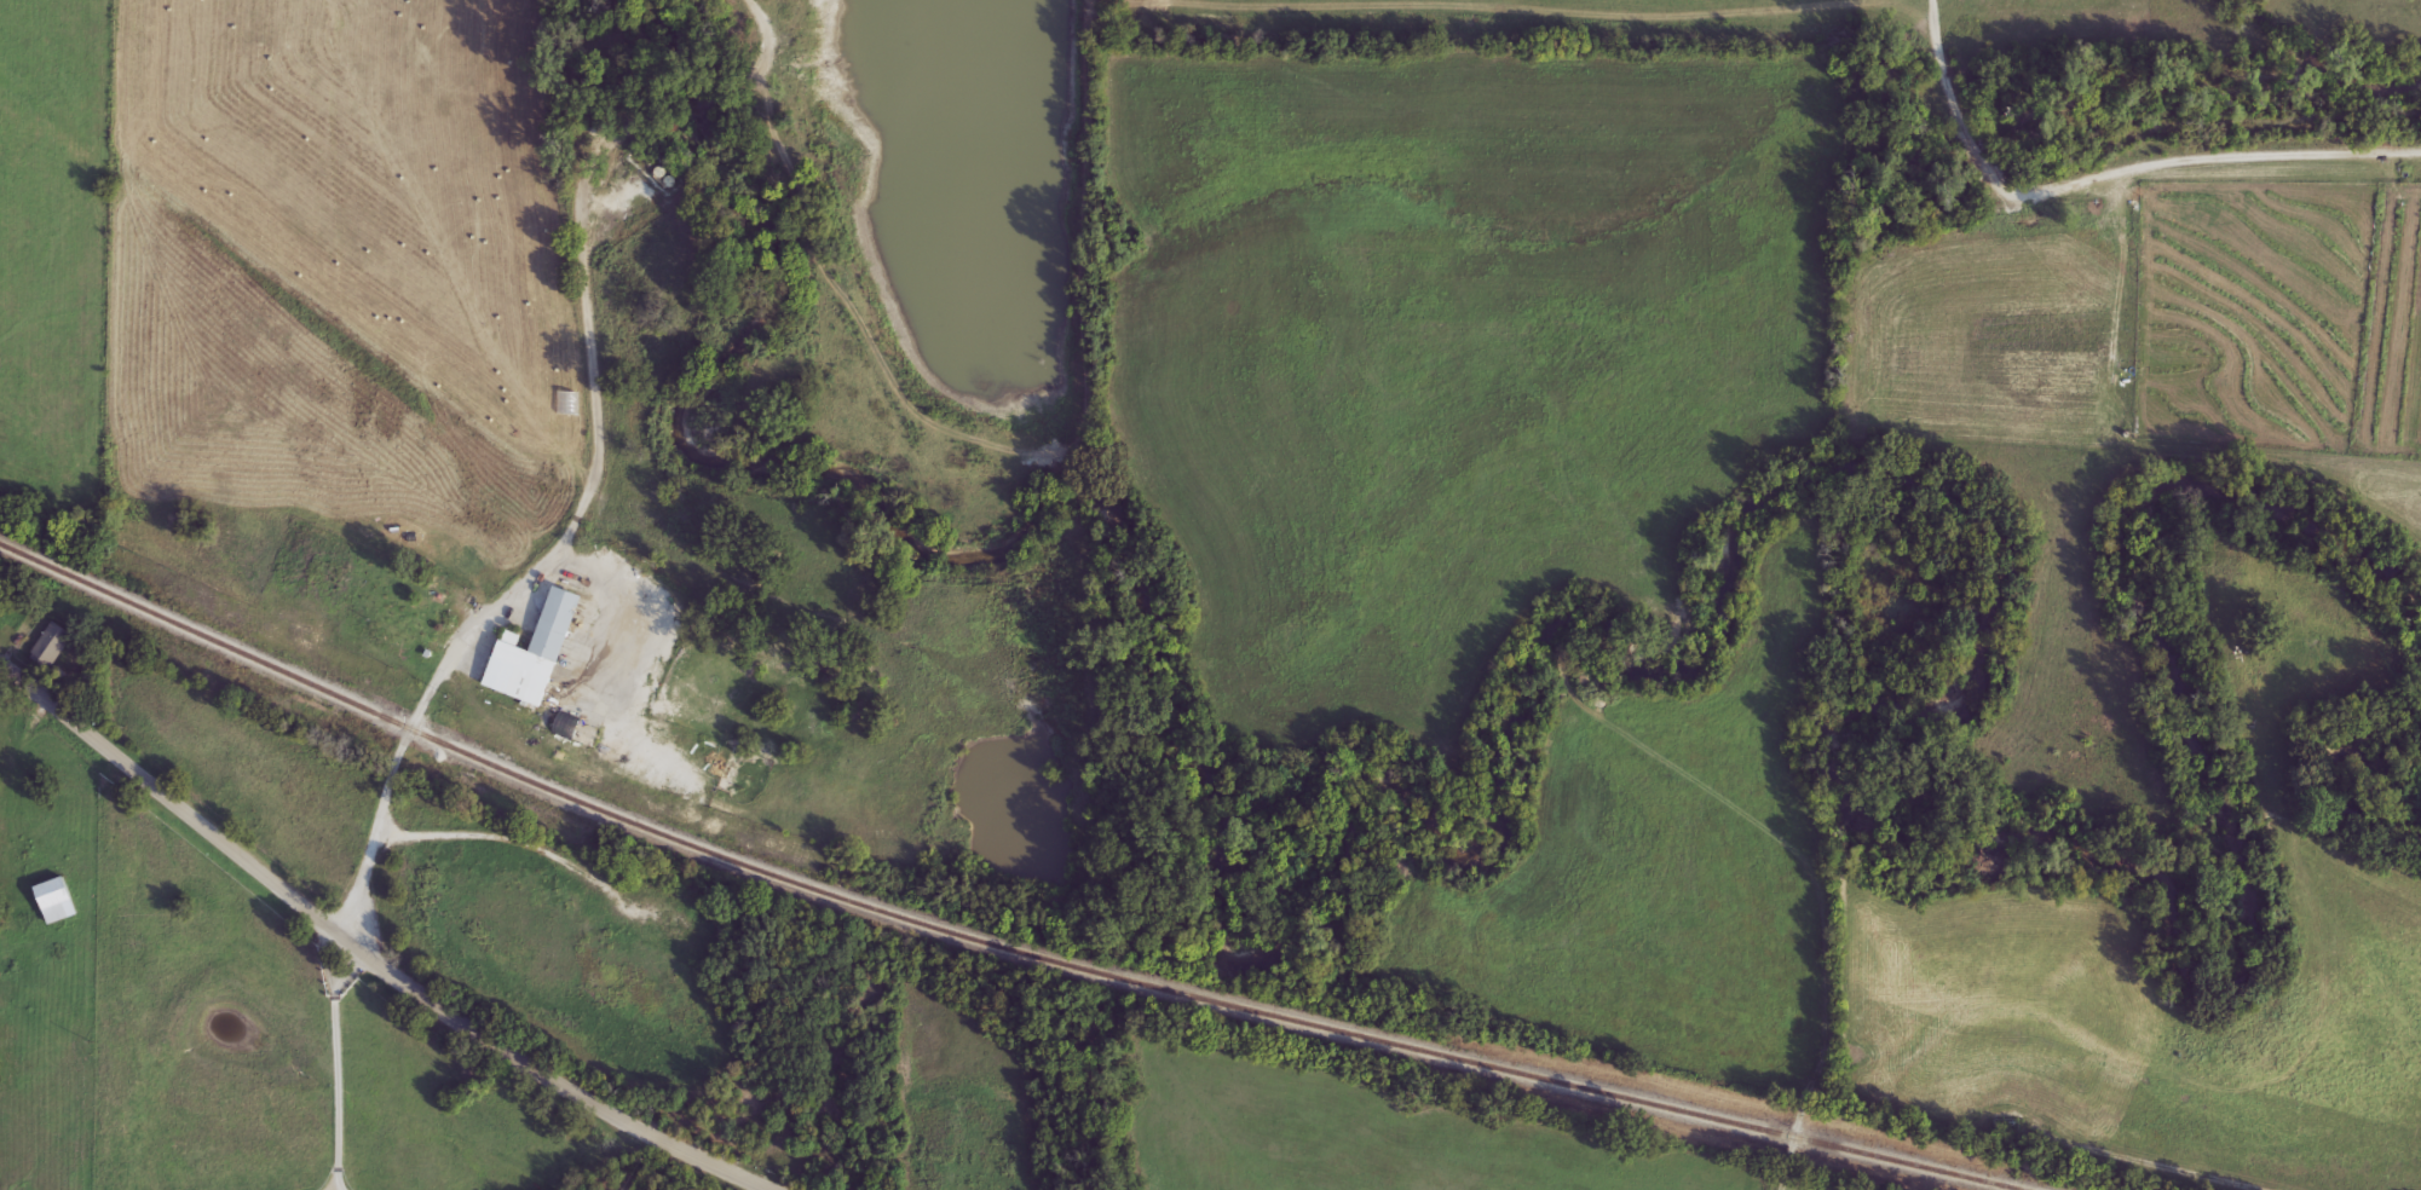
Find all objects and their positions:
road: (2111, 169)
building: (399, 623)
building: (52, 647)
building: (534, 655)
road: (410, 738)
building: (56, 902)
railway: (987, 945)
road: (363, 954)
road: (338, 1069)
road: (2171, 1162)
road: (341, 1188)

